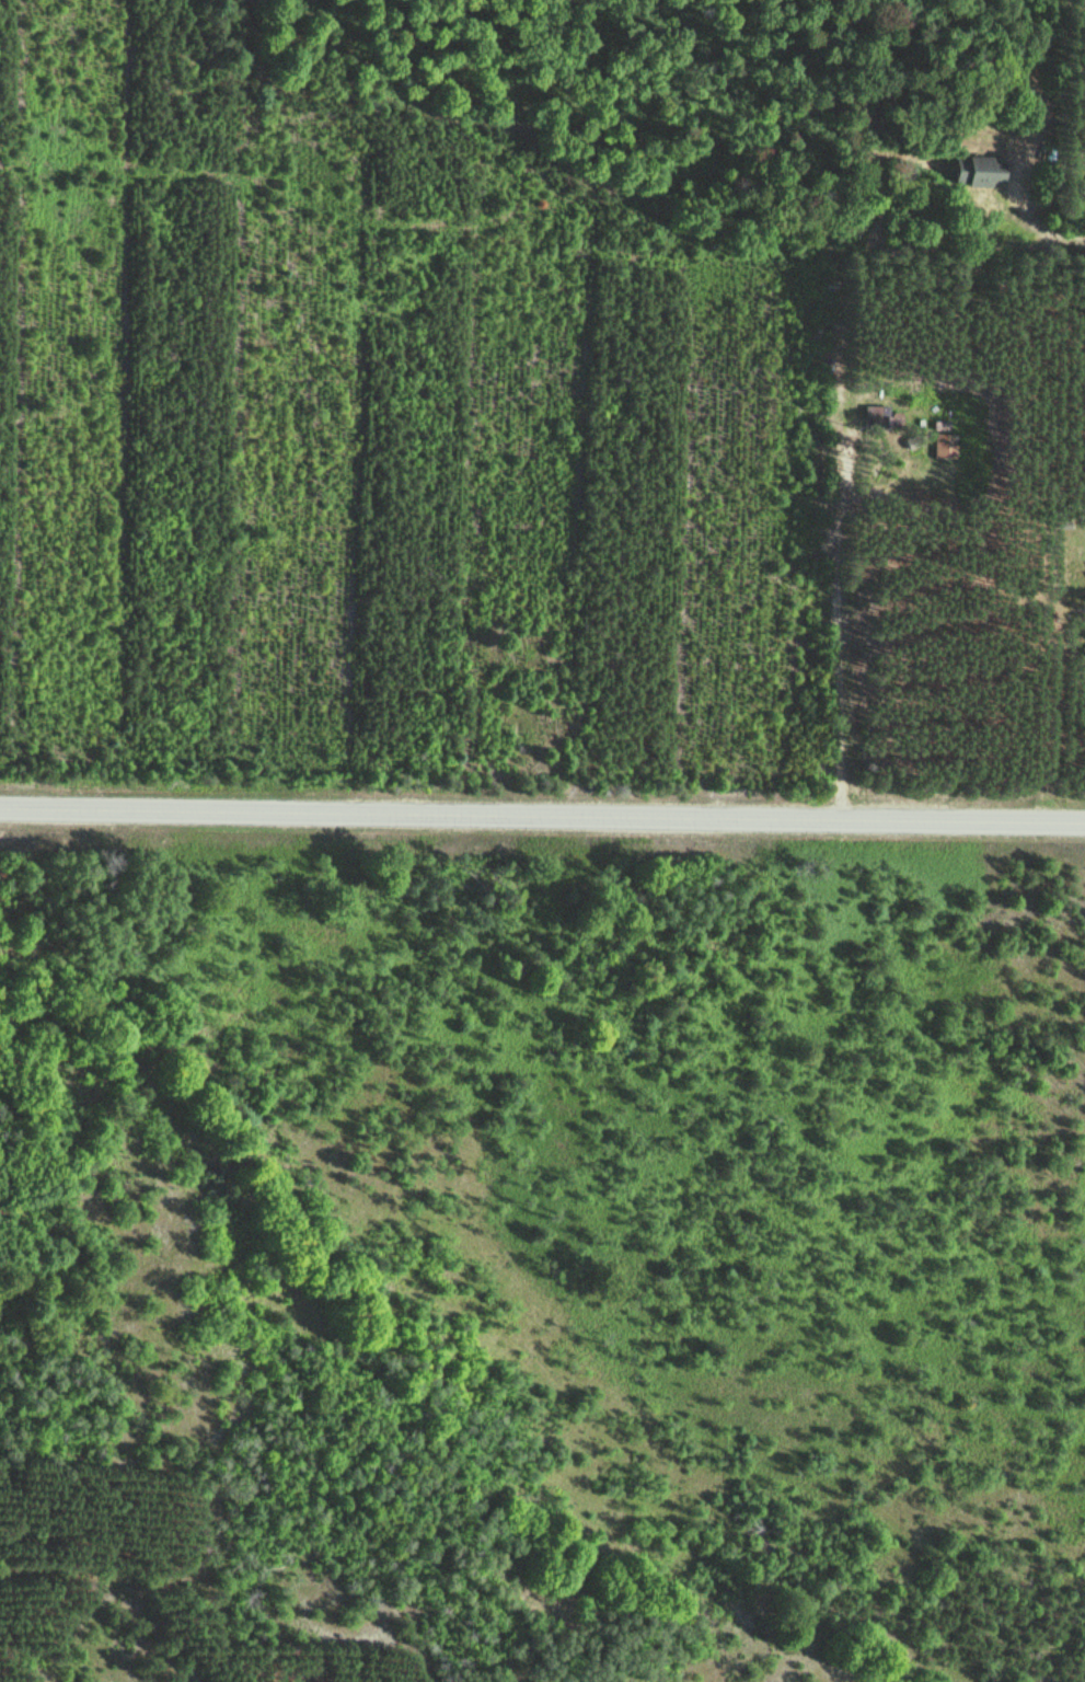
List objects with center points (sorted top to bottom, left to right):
building: (973, 171)
road: (542, 818)

